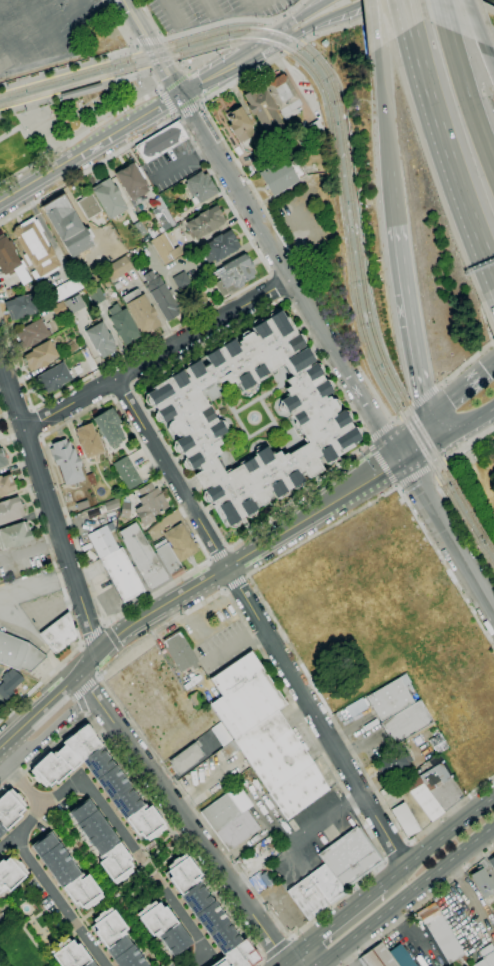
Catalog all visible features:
road: (249, 3)
road: (480, 4)
road: (211, 8)
park: (477, 8)
road: (290, 10)
parking lot: (207, 11)
road: (172, 13)
road: (408, 13)
road: (67, 14)
road: (443, 14)
road: (222, 15)
road: (302, 15)
road: (151, 19)
road: (331, 20)
road: (476, 22)
road: (219, 23)
road: (353, 23)
road: (373, 24)
road: (121, 25)
road: (46, 26)
parking lot: (43, 31)
road: (162, 39)
road: (281, 39)
road: (149, 42)
road: (135, 44)
road: (154, 44)
road: (9, 46)
road: (295, 46)
road: (147, 48)
road: (121, 53)
road: (490, 55)
railway: (108, 57)
road: (142, 61)
road: (227, 68)
road: (132, 76)
road: (244, 77)
road: (153, 80)
railway: (117, 81)
road: (160, 89)
building: (81, 91)
traffic signals: (180, 93)
building: (283, 96)
road: (468, 99)
road: (169, 102)
road: (200, 103)
road: (381, 108)
building: (263, 109)
road: (188, 110)
road: (177, 116)
building: (239, 124)
road: (79, 134)
building: (309, 135)
building: (160, 142)
road: (89, 147)
railway: (348, 147)
building: (278, 150)
road: (447, 155)
building: (264, 159)
railway: (342, 165)
parking lot: (172, 167)
building: (281, 175)
building: (131, 182)
building: (200, 187)
road: (392, 192)
building: (108, 198)
building: (89, 206)
building: (161, 213)
building: (205, 222)
building: (68, 227)
building: (219, 247)
building: (35, 248)
building: (165, 249)
building: (11, 261)
road: (298, 265)
road: (267, 267)
building: (118, 268)
road: (288, 273)
building: (234, 275)
building: (181, 280)
road: (277, 286)
building: (60, 292)
building: (160, 295)
building: (96, 296)
building: (74, 303)
building: (20, 306)
building: (58, 309)
building: (140, 311)
road: (409, 322)
building: (122, 324)
building: (32, 334)
building: (100, 339)
road: (159, 355)
building: (40, 356)
road: (466, 365)
road: (486, 371)
building: (52, 378)
road: (122, 391)
road: (451, 395)
road: (425, 396)
road: (18, 412)
road: (406, 412)
fountain: (254, 417)
building: (321, 419)
road: (40, 420)
road: (467, 420)
road: (392, 421)
traffic signals: (438, 426)
building: (108, 428)
road: (380, 431)
road: (13, 437)
road: (367, 440)
road: (418, 440)
building: (88, 441)
road: (471, 441)
road: (366, 442)
road: (28, 444)
road: (359, 449)
traffic signals: (398, 454)
road: (446, 457)
building: (2, 459)
road: (47, 459)
building: (66, 462)
road: (381, 463)
road: (441, 468)
building: (126, 472)
road: (419, 472)
road: (433, 473)
building: (91, 479)
building: (6, 485)
road: (394, 485)
building: (149, 503)
building: (112, 504)
road: (50, 505)
building: (82, 505)
building: (10, 510)
road: (463, 531)
road: (447, 532)
building: (14, 535)
building: (180, 542)
road: (229, 548)
road: (30, 549)
road: (248, 553)
road: (219, 554)
building: (142, 556)
building: (167, 557)
road: (210, 558)
building: (115, 563)
road: (57, 575)
road: (247, 576)
road: (235, 581)
road: (225, 589)
road: (209, 599)
road: (262, 601)
road: (11, 609)
road: (104, 623)
road: (261, 623)
building: (59, 633)
road: (93, 634)
road: (111, 637)
road: (81, 644)
road: (121, 651)
building: (180, 652)
building: (18, 653)
road: (97, 678)
building: (9, 683)
road: (87, 686)
building: (244, 695)
building: (390, 698)
road: (50, 701)
road: (81, 702)
building: (356, 709)
road: (82, 715)
building: (406, 724)
building: (221, 734)
road: (47, 736)
building: (229, 749)
building: (186, 758)
building: (392, 762)
building: (280, 764)
building: (98, 779)
road: (20, 781)
building: (426, 789)
building: (382, 791)
road: (144, 795)
building: (226, 808)
building: (9, 809)
building: (405, 820)
road: (187, 824)
road: (21, 829)
building: (237, 830)
road: (438, 840)
building: (102, 841)
building: (265, 842)
road: (20, 847)
road: (396, 851)
road: (139, 853)
building: (491, 862)
building: (335, 872)
building: (10, 873)
building: (66, 873)
building: (257, 878)
building: (483, 883)
road: (406, 895)
road: (470, 896)
building: (201, 903)
road: (419, 906)
road: (67, 911)
road: (337, 920)
building: (163, 927)
building: (440, 935)
road: (291, 938)
building: (115, 939)
road: (277, 948)
building: (70, 954)
building: (238, 956)
building: (401, 956)
building: (486, 956)
building: (378, 957)
road: (264, 958)
road: (286, 962)
building: (456, 963)

